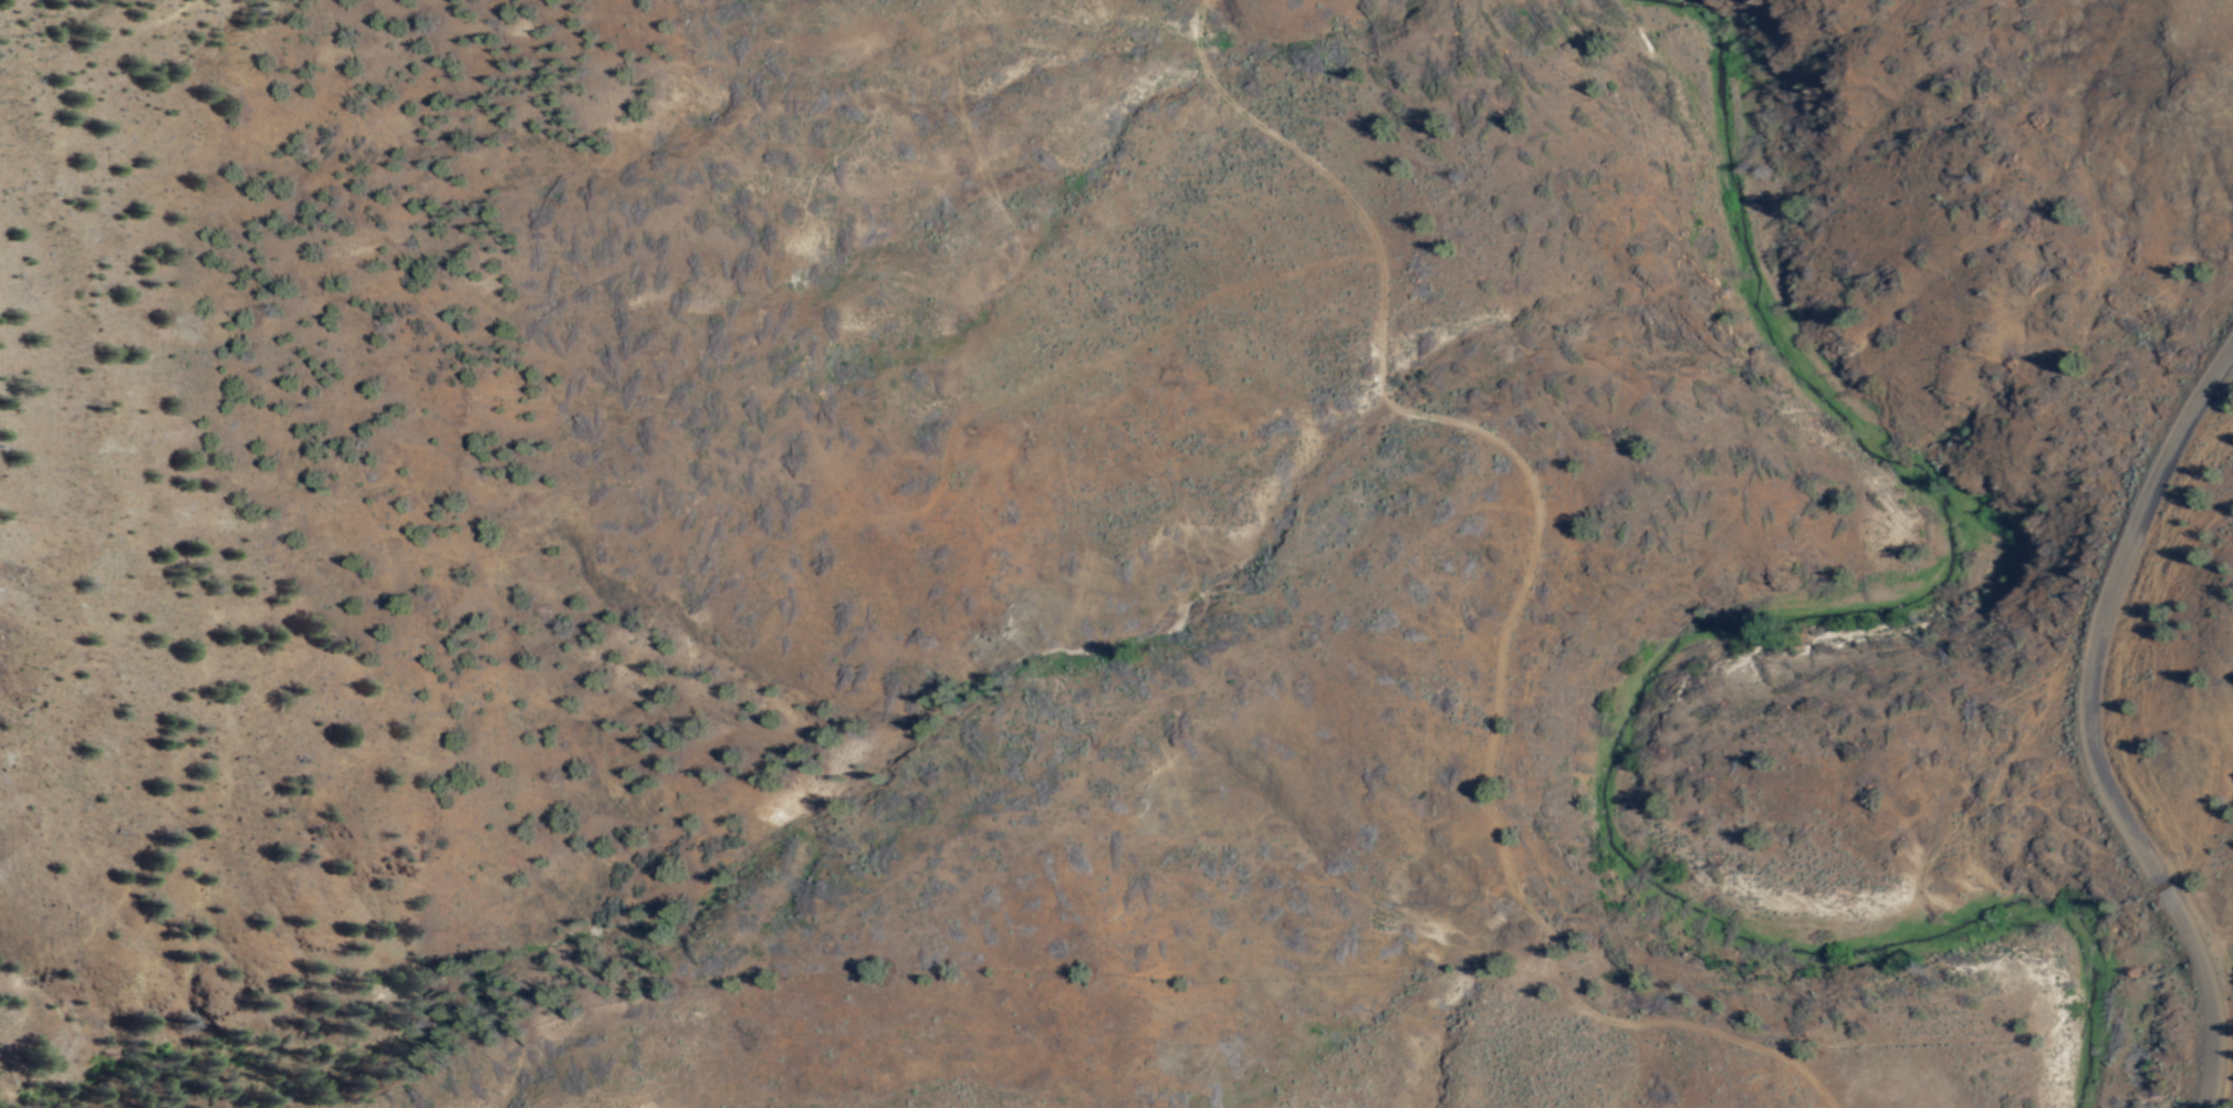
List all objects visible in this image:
road: (2081, 683)

